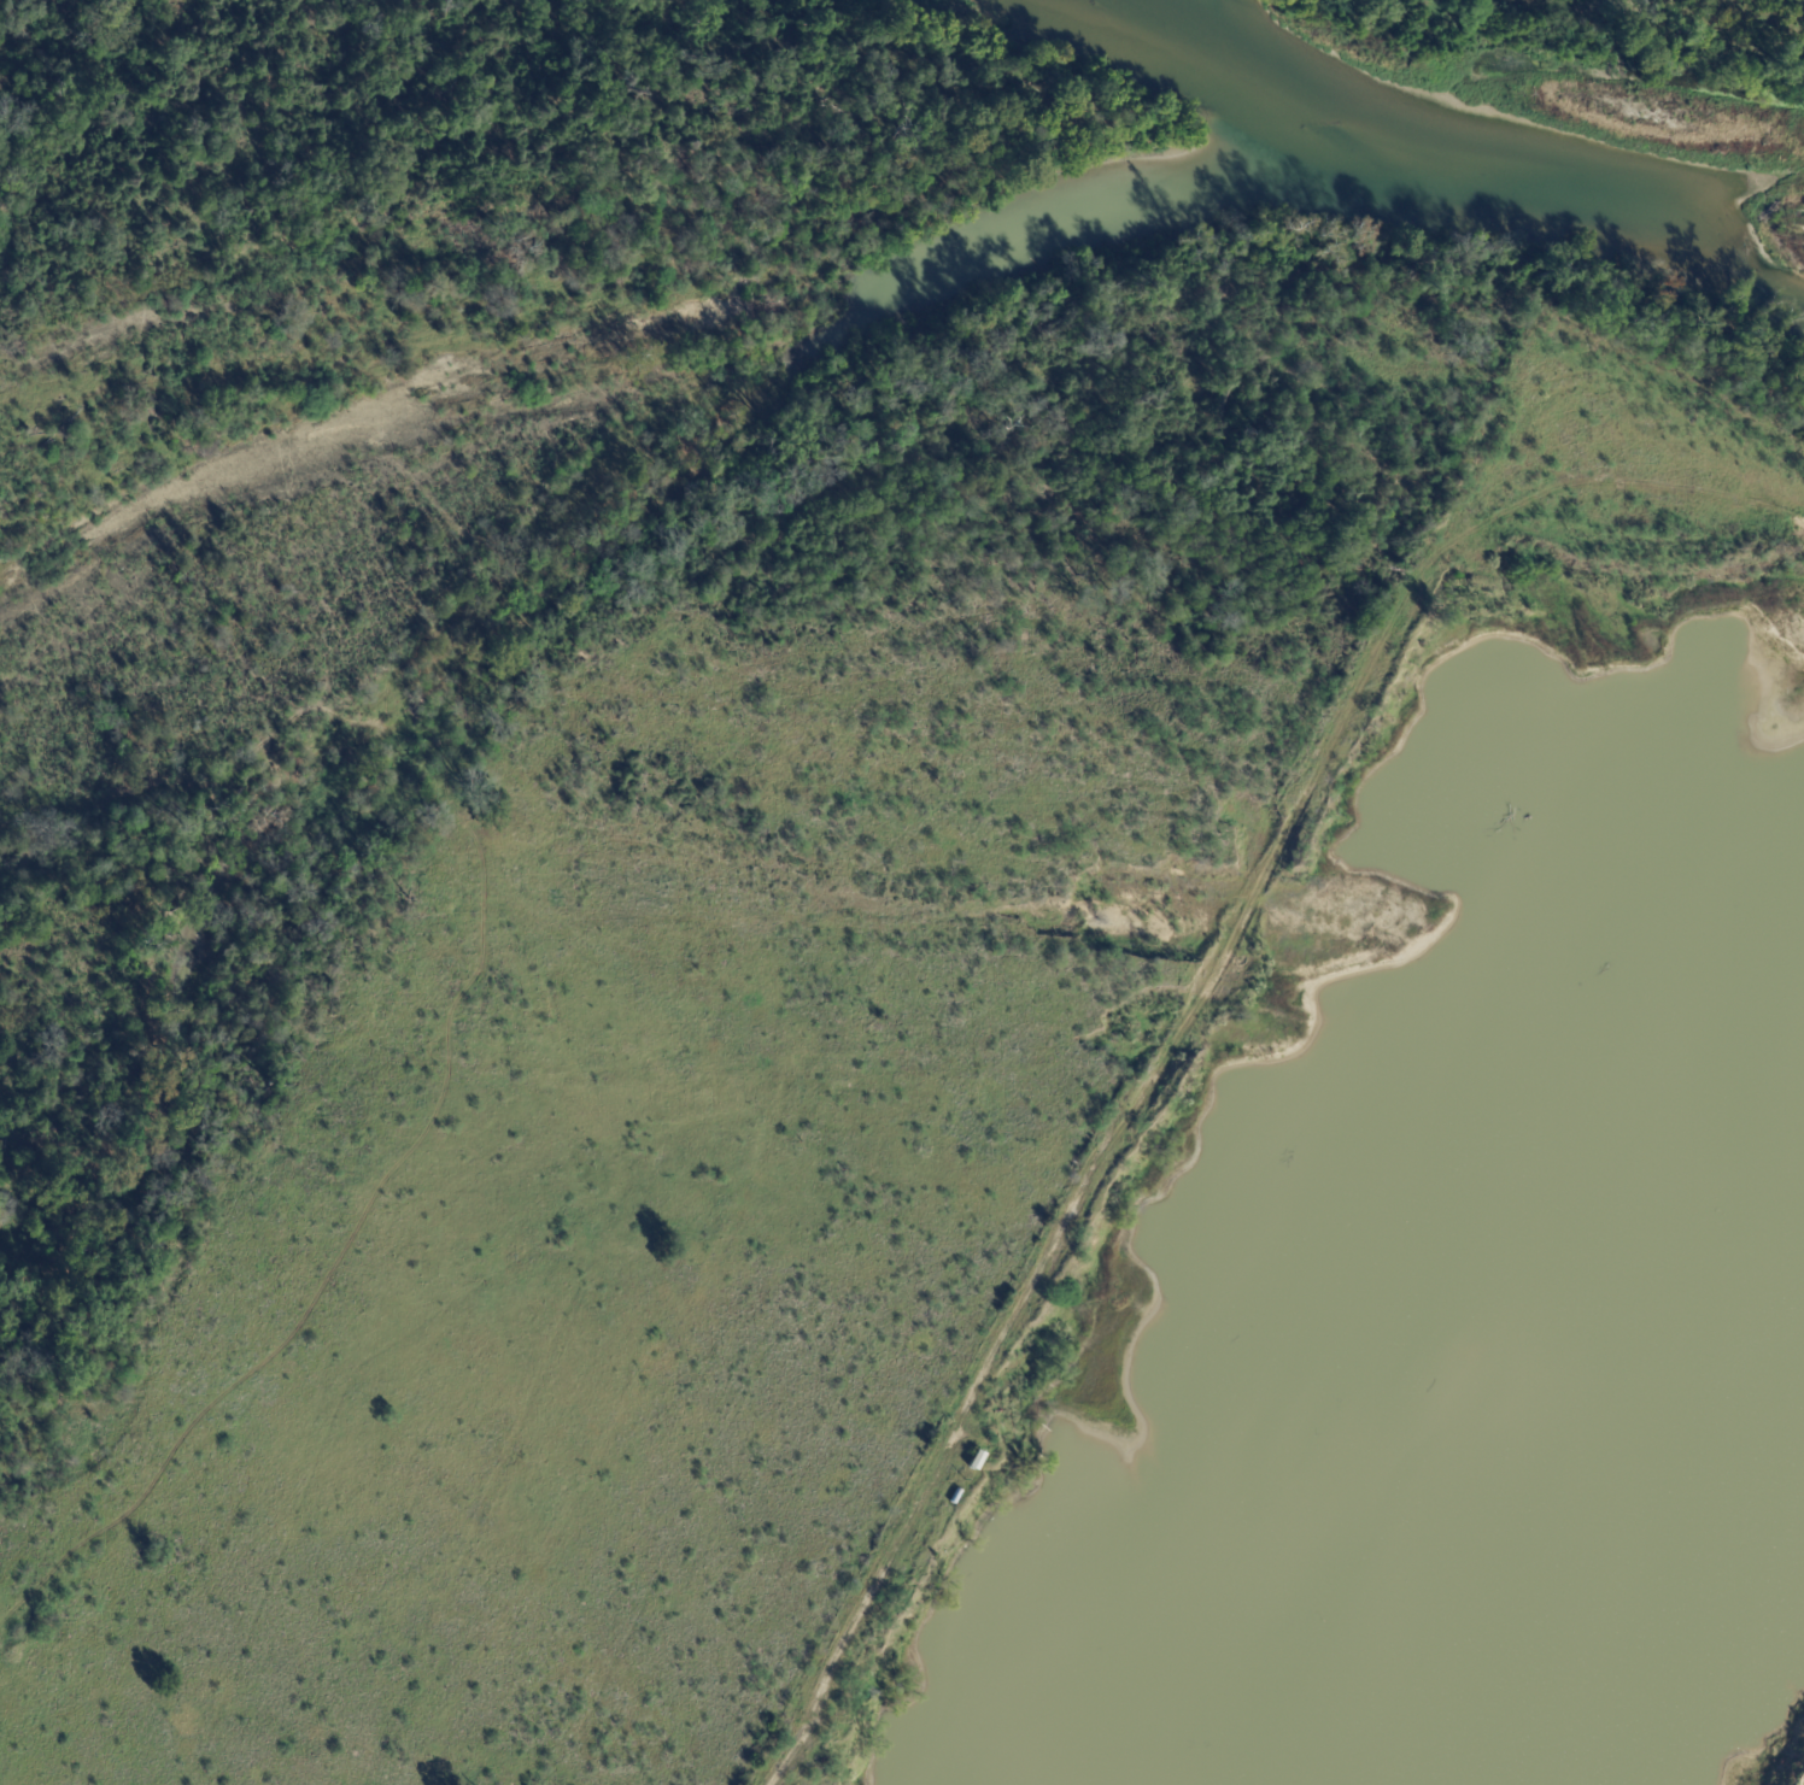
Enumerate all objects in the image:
river: (1457, 115)
building: (974, 1460)

